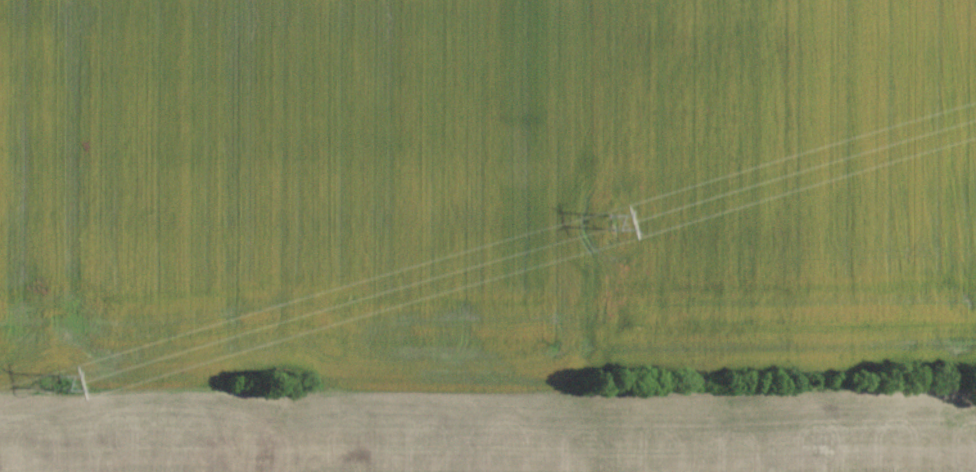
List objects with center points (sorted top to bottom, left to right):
power tower: (612, 227)
power tower: (62, 388)

